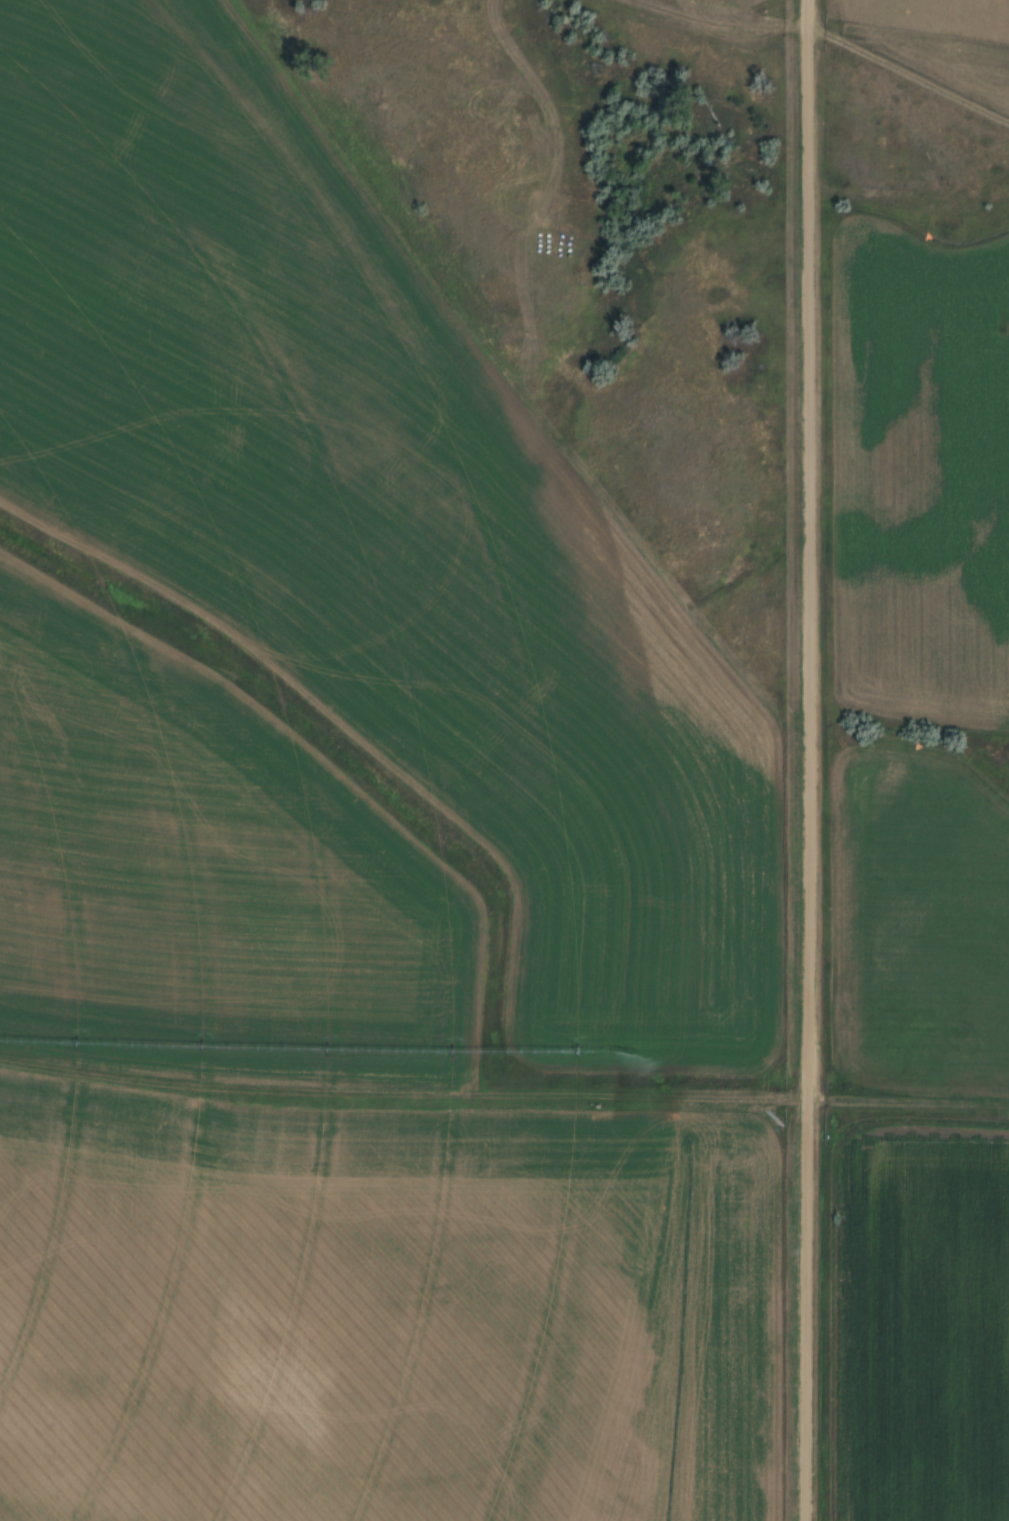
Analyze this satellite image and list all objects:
road: (807, 760)

